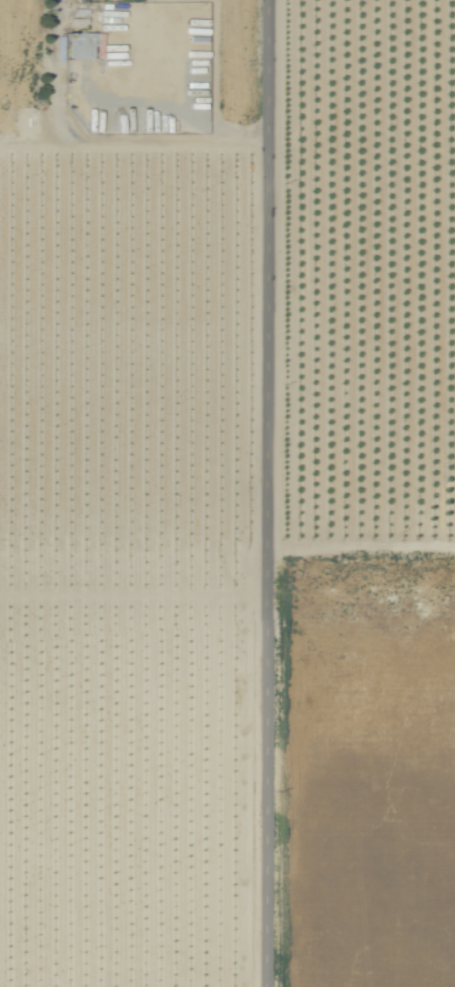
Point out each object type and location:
road: (92, 144)
road: (260, 493)
road: (357, 544)

